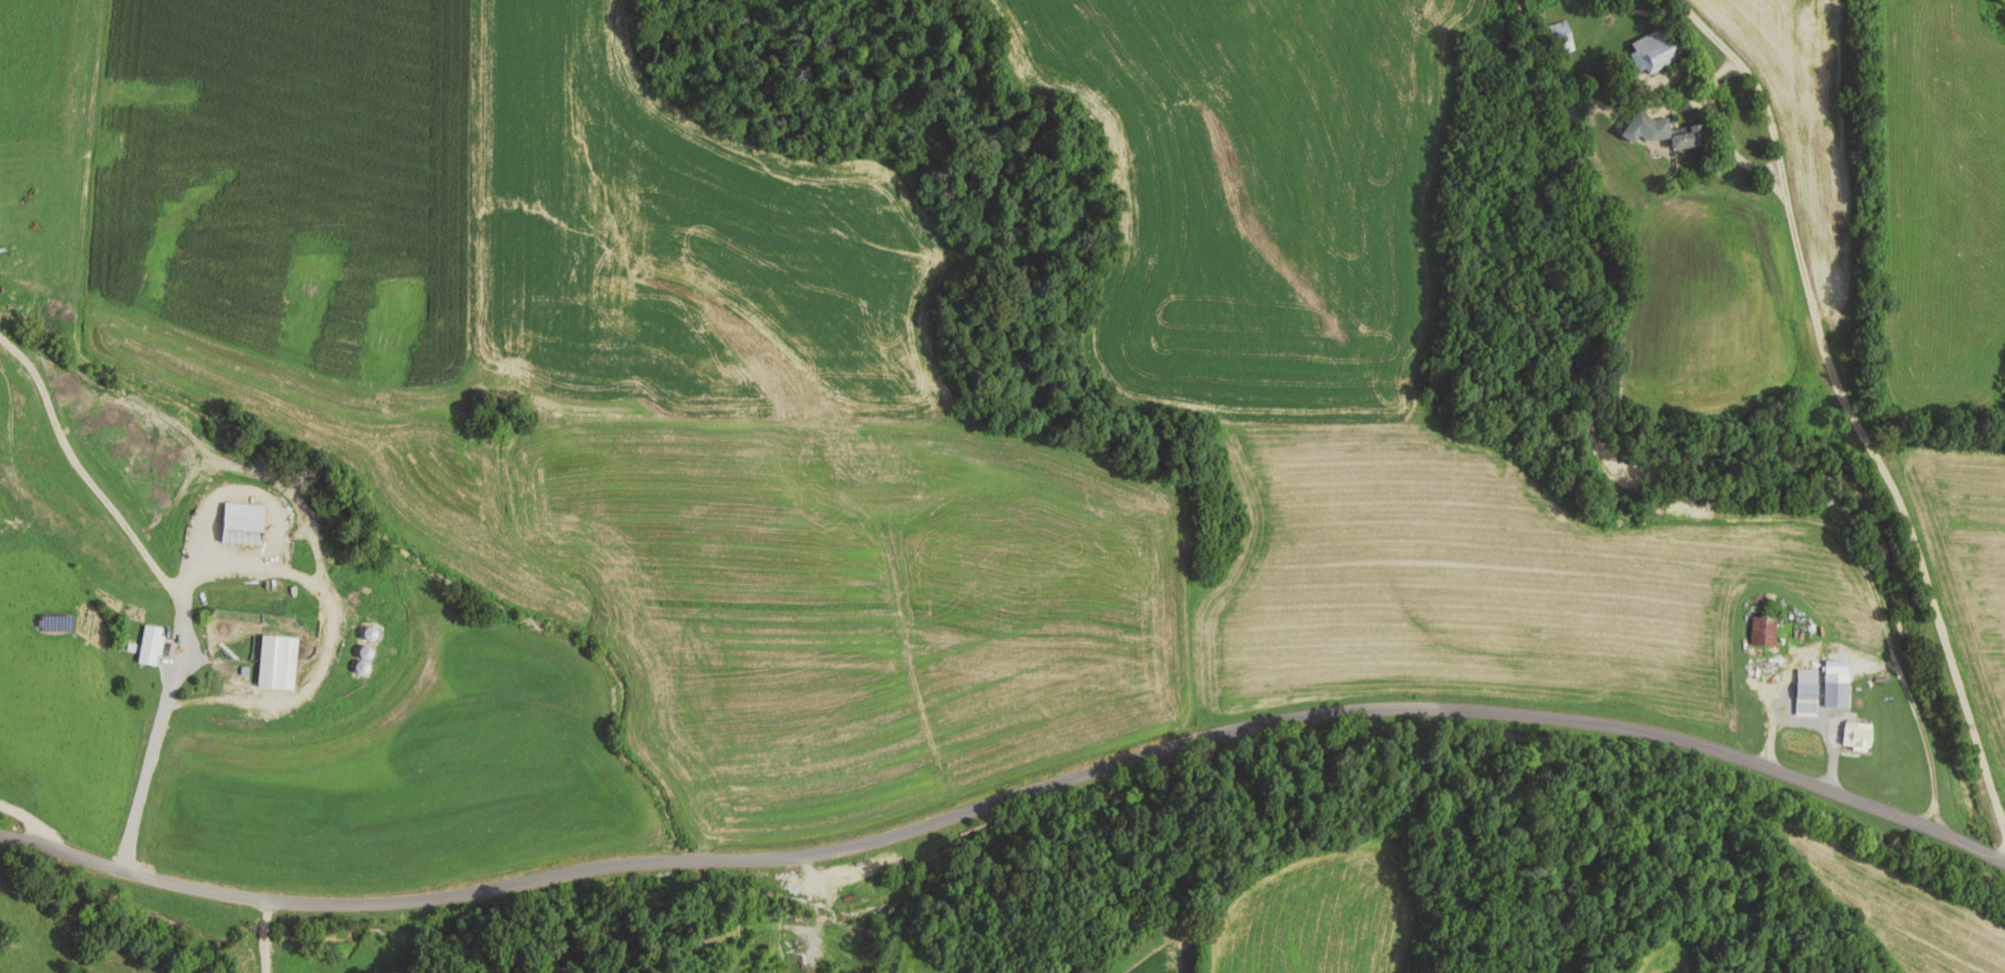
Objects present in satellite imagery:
building: (1559, 36)
building: (1651, 50)
building: (1659, 131)
road: (1849, 406)
road: (81, 469)
building: (241, 524)
road: (234, 563)
building: (1763, 631)
building: (150, 645)
building: (361, 659)
building: (276, 662)
building: (1764, 675)
building: (1836, 694)
building: (1806, 697)
building: (1857, 737)
road: (1014, 788)
road: (27, 826)
building: (863, 868)
road: (264, 935)

